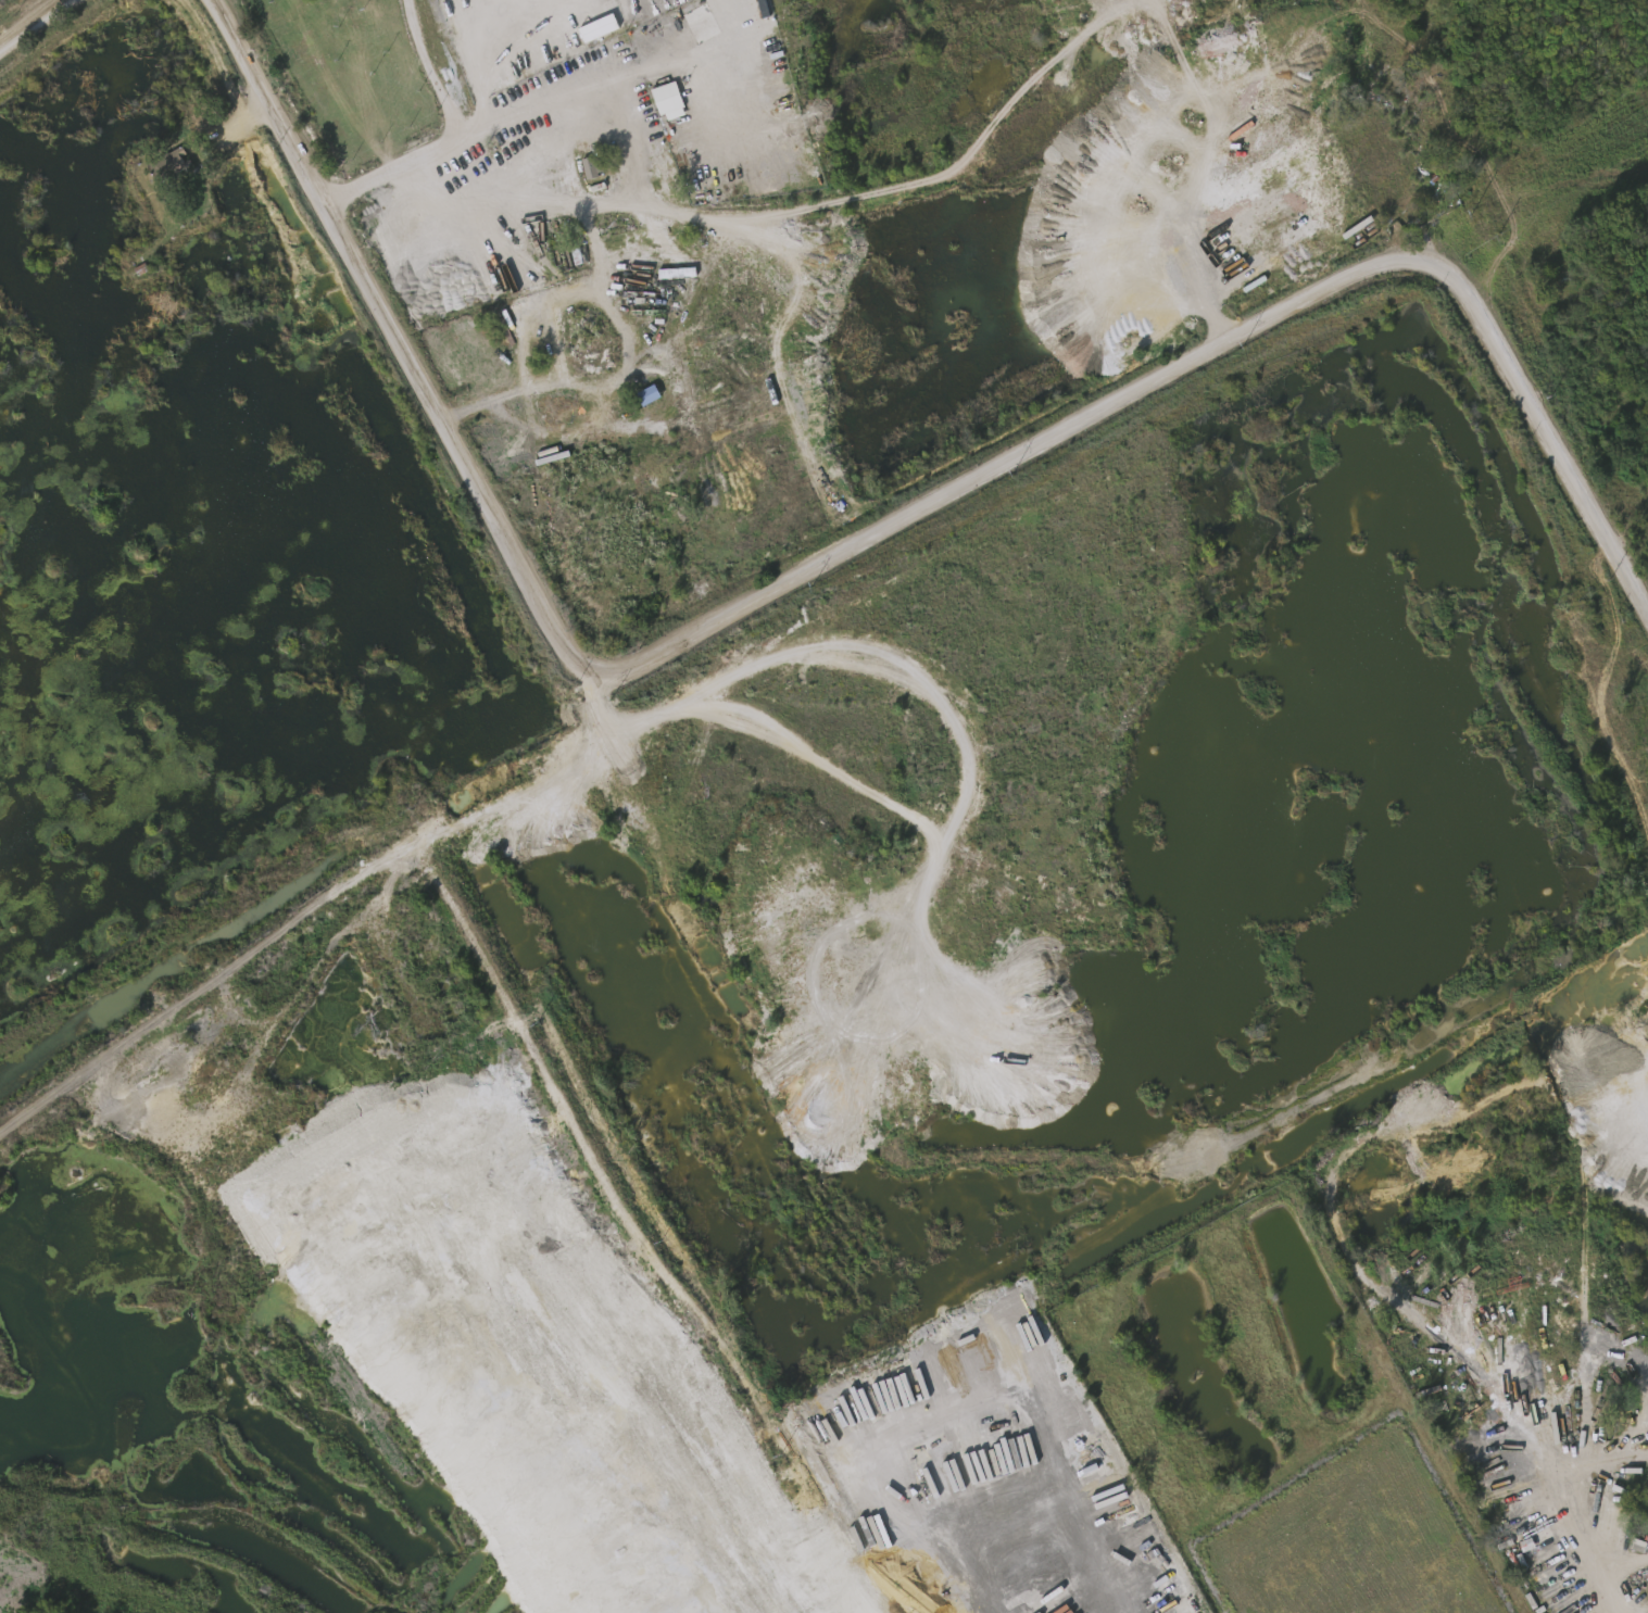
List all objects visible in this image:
road: (41, 30)
road: (475, 135)
building: (160, 162)
road: (151, 313)
road: (847, 554)
road: (173, 669)
building: (1621, 1016)
road: (369, 1053)
road: (1587, 1566)
road: (1622, 1572)

